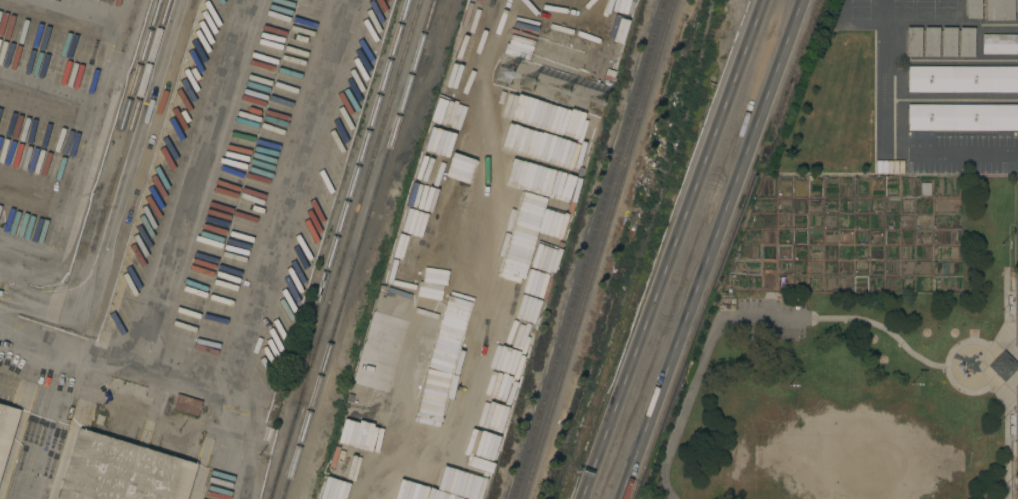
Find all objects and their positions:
building: (973, 8)
building: (1017, 9)
building: (998, 10)
building: (913, 41)
building: (931, 41)
building: (948, 41)
building: (966, 41)
building: (999, 44)
railway: (138, 70)
power tower: (505, 75)
power tower: (538, 78)
building: (962, 79)
power tower: (563, 88)
power tower: (591, 94)
railway: (136, 108)
building: (548, 114)
building: (962, 117)
road: (137, 142)
road: (893, 150)
road: (961, 151)
road: (84, 159)
railway: (141, 166)
building: (925, 189)
railway: (348, 201)
railway: (345, 249)
railway: (359, 249)
railway: (586, 249)
railway: (596, 249)
road: (669, 249)
road: (709, 249)
park: (1015, 258)
railway: (82, 287)
building: (0, 293)
building: (292, 302)
building: (515, 313)
road: (1003, 316)
building: (106, 323)
road: (882, 328)
building: (274, 346)
park: (857, 346)
road: (9, 351)
road: (117, 352)
railway: (79, 358)
road: (946, 365)
road: (698, 366)
building: (1002, 366)
building: (186, 402)
road: (741, 408)
building: (98, 418)
railway: (31, 427)
railway: (37, 428)
building: (6, 429)
road: (1005, 432)
park: (1016, 440)
road: (240, 446)
building: (122, 471)
building: (43, 498)

